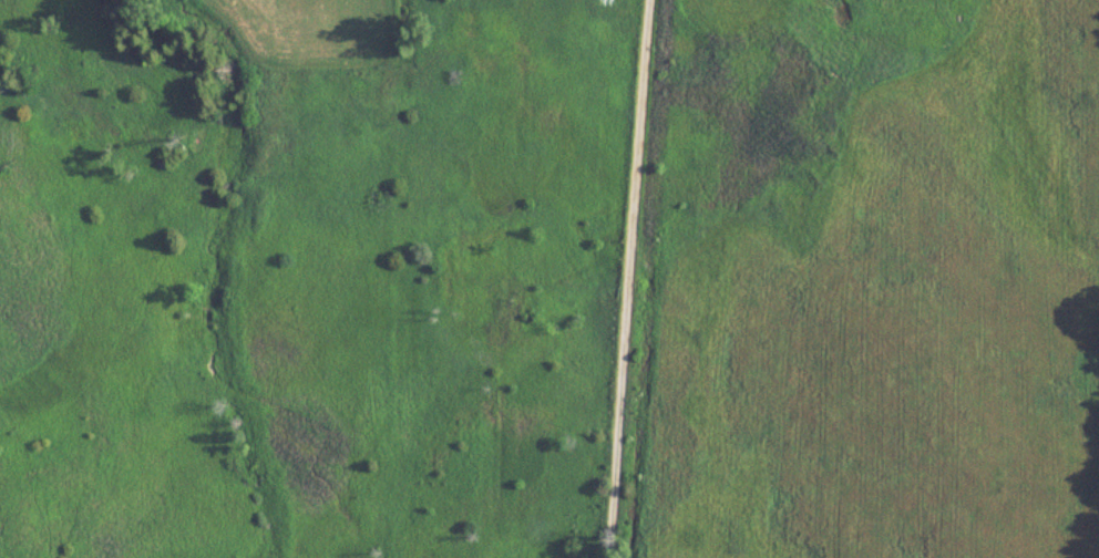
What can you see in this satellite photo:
road: (627, 278)

